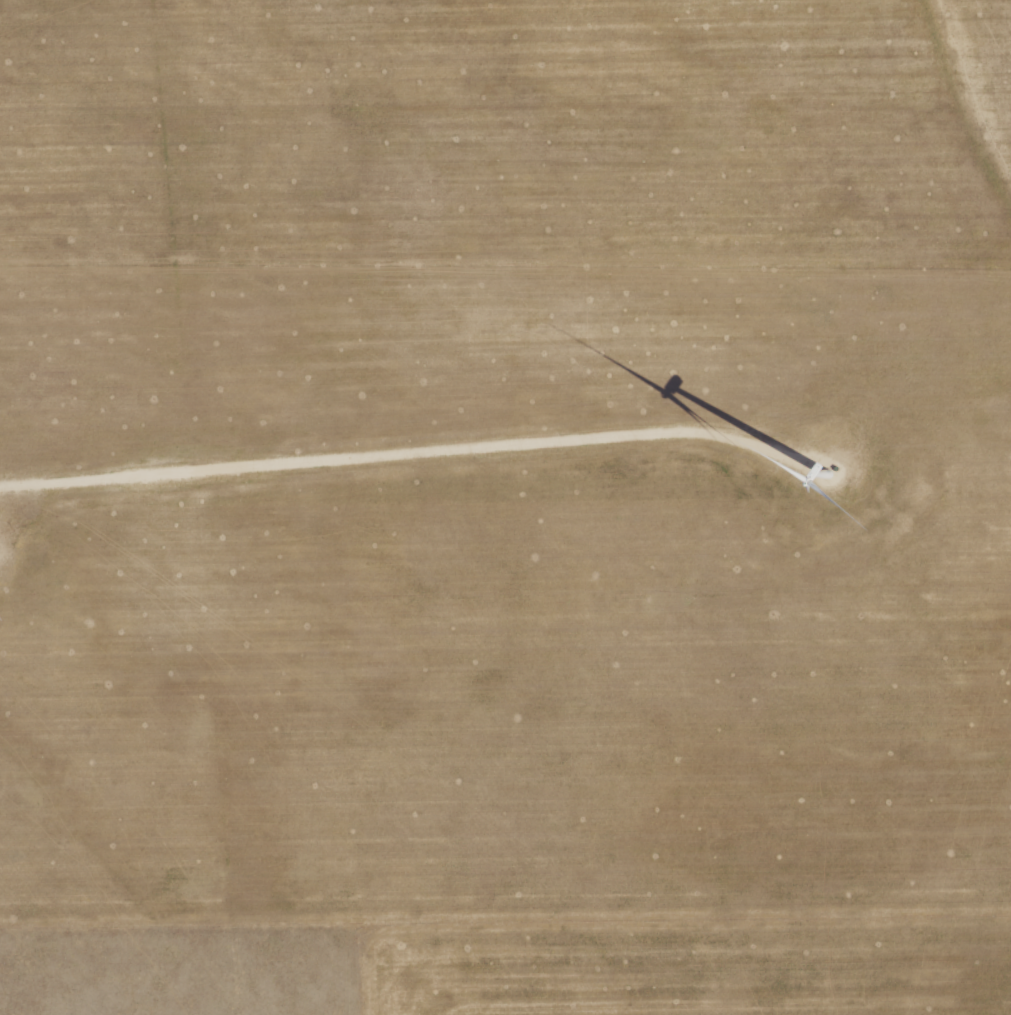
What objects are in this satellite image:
wind turbine: (825, 468)

